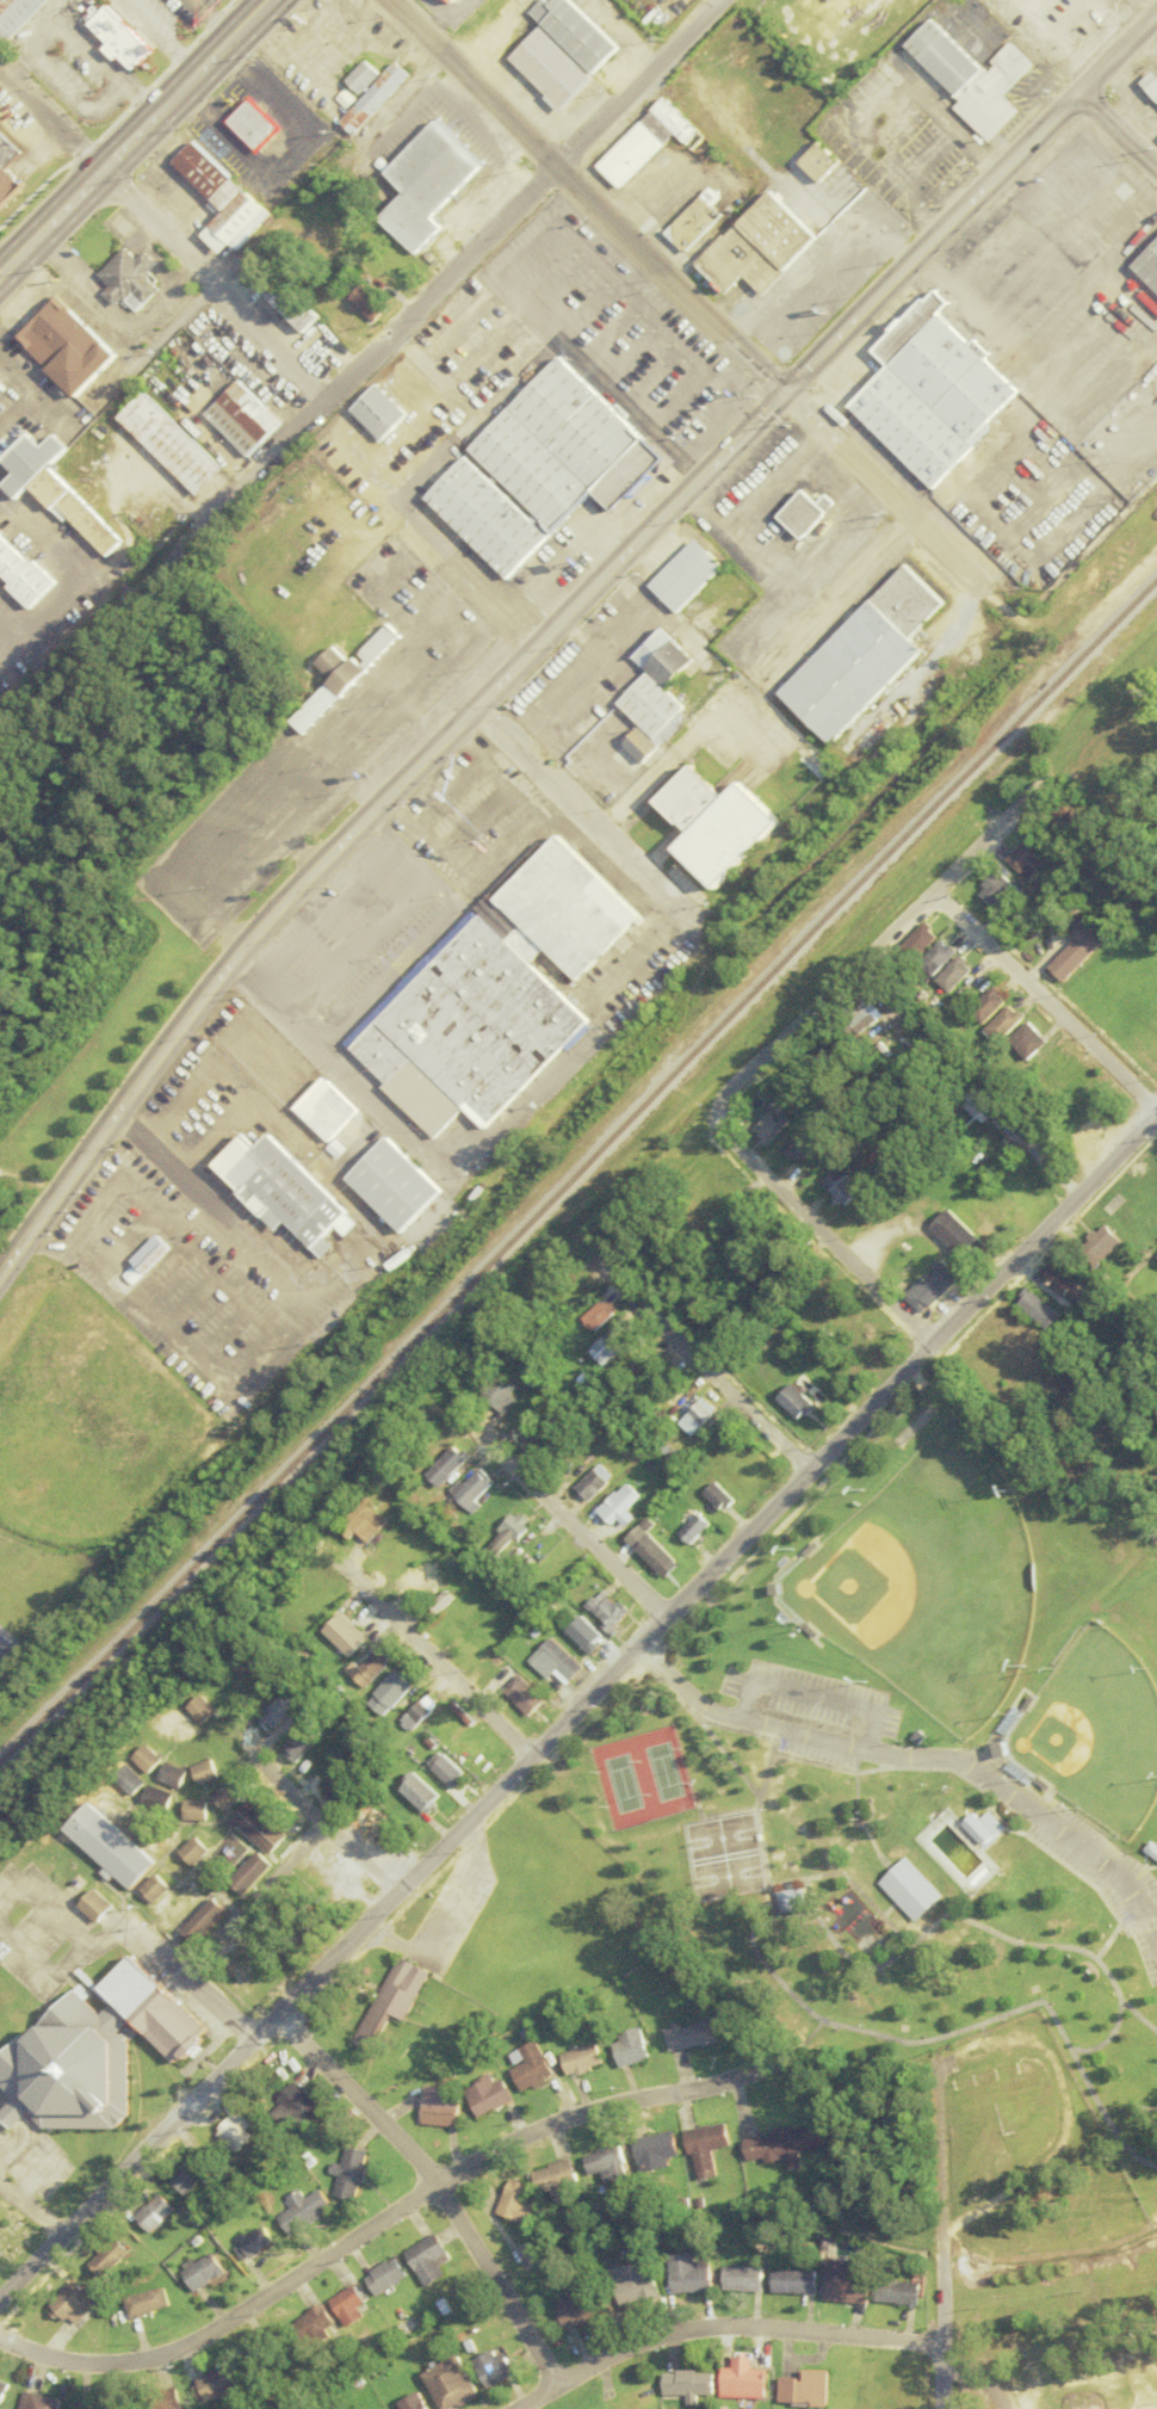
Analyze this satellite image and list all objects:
road: (119, 0)
building: (451, 0)
building: (448, 1)
building: (14, 16)
road: (45, 21)
building: (571, 31)
building: (118, 37)
road: (156, 37)
road: (94, 42)
road: (103, 67)
building: (546, 67)
building: (363, 76)
building: (971, 78)
building: (1151, 85)
road: (69, 93)
building: (373, 98)
building: (250, 122)
road: (1114, 131)
road: (132, 137)
building: (650, 143)
building: (1076, 173)
building: (7, 177)
building: (210, 177)
building: (426, 183)
building: (1120, 189)
road: (581, 197)
road: (969, 198)
building: (237, 224)
building: (693, 227)
road: (161, 236)
building: (762, 247)
building: (1149, 266)
building: (130, 280)
building: (285, 296)
building: (372, 303)
road: (394, 326)
building: (69, 352)
traffic signals: (781, 393)
building: (934, 394)
building: (382, 413)
building: (240, 418)
building: (168, 443)
building: (569, 447)
building: (58, 490)
road: (880, 492)
building: (805, 512)
building: (489, 518)
road: (74, 568)
building: (688, 574)
building: (24, 575)
road: (495, 605)
building: (378, 647)
building: (864, 656)
building: (663, 657)
building: (333, 662)
building: (650, 704)
building: (320, 708)
building: (583, 725)
building: (642, 746)
road: (679, 749)
building: (1144, 749)
road: (371, 814)
road: (584, 817)
building: (723, 823)
building: (1032, 857)
building: (998, 890)
building: (571, 908)
building: (922, 940)
building: (1078, 947)
road: (865, 956)
building: (939, 958)
building: (955, 975)
road: (1044, 1003)
building: (989, 1005)
building: (1006, 1023)
building: (470, 1032)
building: (1027, 1042)
building: (324, 1110)
building: (767, 1129)
building: (799, 1145)
road: (163, 1163)
railway: (575, 1168)
building: (394, 1185)
building: (839, 1188)
building: (281, 1193)
road: (819, 1235)
building: (957, 1237)
building: (1100, 1244)
building: (144, 1253)
building: (1060, 1279)
building: (935, 1286)
building: (574, 1297)
building: (596, 1317)
building: (611, 1336)
building: (635, 1355)
road: (698, 1365)
building: (495, 1392)
building: (797, 1404)
building: (695, 1417)
building: (551, 1444)
building: (444, 1466)
building: (589, 1482)
building: (470, 1489)
building: (713, 1496)
building: (614, 1506)
road: (557, 1521)
building: (364, 1522)
building: (689, 1526)
building: (502, 1537)
building: (646, 1552)
road: (712, 1562)
park: (926, 1580)
building: (422, 1585)
building: (344, 1635)
building: (580, 1638)
road: (433, 1661)
building: (551, 1664)
building: (372, 1668)
building: (392, 1693)
road: (810, 1694)
building: (519, 1695)
building: (196, 1710)
building: (279, 1710)
building: (417, 1715)
building: (163, 1727)
park: (1093, 1731)
building: (304, 1741)
building: (468, 1750)
road: (917, 1758)
building: (143, 1759)
park: (912, 1763)
road: (763, 1765)
building: (445, 1771)
building: (202, 1772)
building: (168, 1775)
park: (638, 1777)
building: (126, 1781)
building: (339, 1784)
park: (1156, 1787)
building: (420, 1793)
building: (154, 1797)
building: (225, 1797)
building: (193, 1810)
road: (321, 1826)
building: (985, 1828)
building: (262, 1829)
building: (147, 1833)
building: (112, 1847)
building: (1152, 1849)
building: (196, 1851)
park: (724, 1858)
building: (254, 1873)
building: (157, 1889)
building: (911, 1889)
road: (254, 1901)
building: (796, 1901)
building: (98, 1907)
road: (437, 1913)
building: (209, 1921)
road: (72, 1931)
building: (252, 1971)
road: (1110, 1976)
road: (204, 1994)
road: (799, 1996)
building: (392, 2000)
road: (1138, 2015)
building: (691, 2036)
building: (630, 2049)
building: (94, 2052)
building: (582, 2059)
building: (530, 2067)
building: (485, 2095)
building: (438, 2107)
building: (295, 2113)
road: (1070, 2118)
building: (787, 2144)
building: (704, 2149)
building: (654, 2151)
road: (137, 2157)
building: (604, 2163)
building: (346, 2174)
building: (187, 2178)
building: (555, 2178)
road: (433, 2187)
building: (513, 2201)
building: (299, 2210)
building: (155, 2211)
road: (30, 2212)
road: (382, 2216)
road: (939, 2235)
park: (13, 2237)
building: (252, 2242)
building: (109, 2256)
building: (421, 2259)
building: (200, 2273)
building: (689, 2274)
building: (379, 2275)
building: (743, 2279)
building: (846, 2280)
building: (633, 2283)
building: (793, 2283)
building: (897, 2292)
building: (73, 2302)
building: (146, 2303)
building: (342, 2305)
building: (581, 2309)
road: (719, 2327)
building: (287, 2340)
building: (491, 2368)
road: (977, 2374)
building: (749, 2382)
building: (215, 2384)
building: (447, 2384)
building: (693, 2385)
building: (2, 2389)
building: (809, 2390)
building: (637, 2399)
building: (162, 2401)
building: (36, 2402)
building: (412, 2403)
building: (95, 2405)

